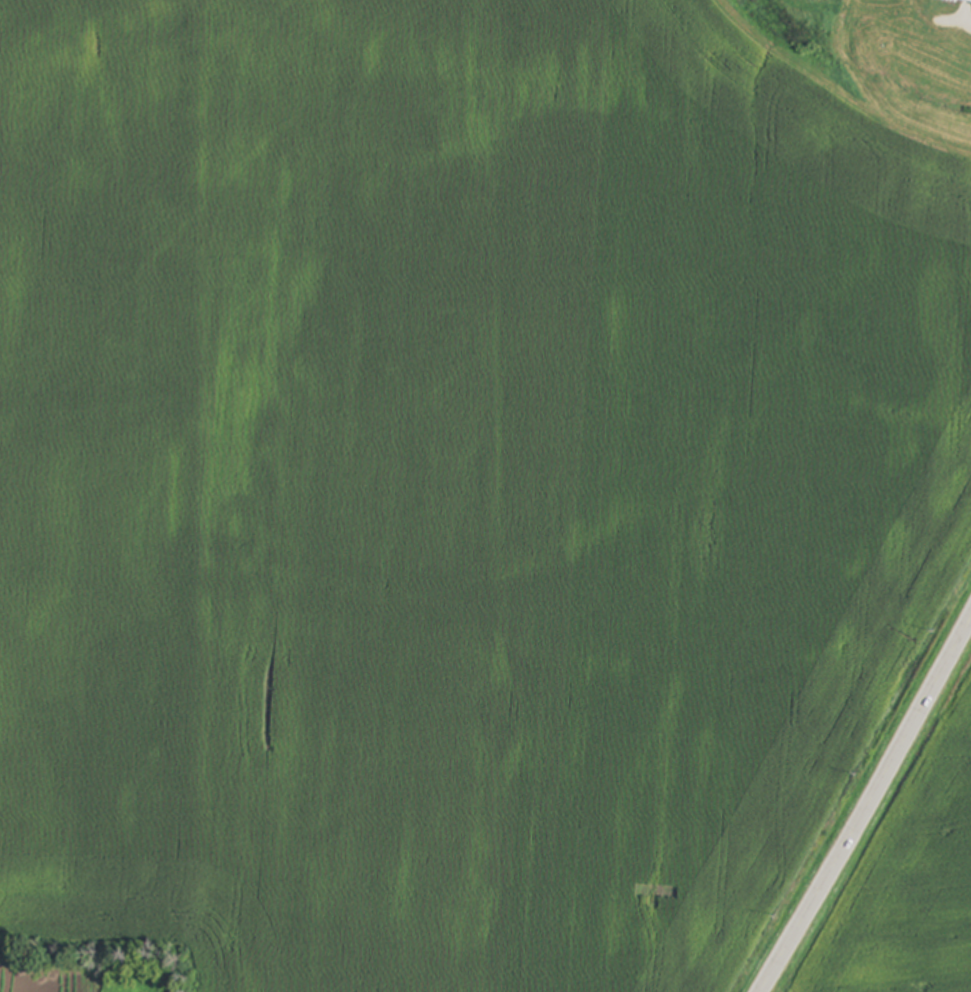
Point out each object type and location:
building: (959, 39)
road: (870, 809)

